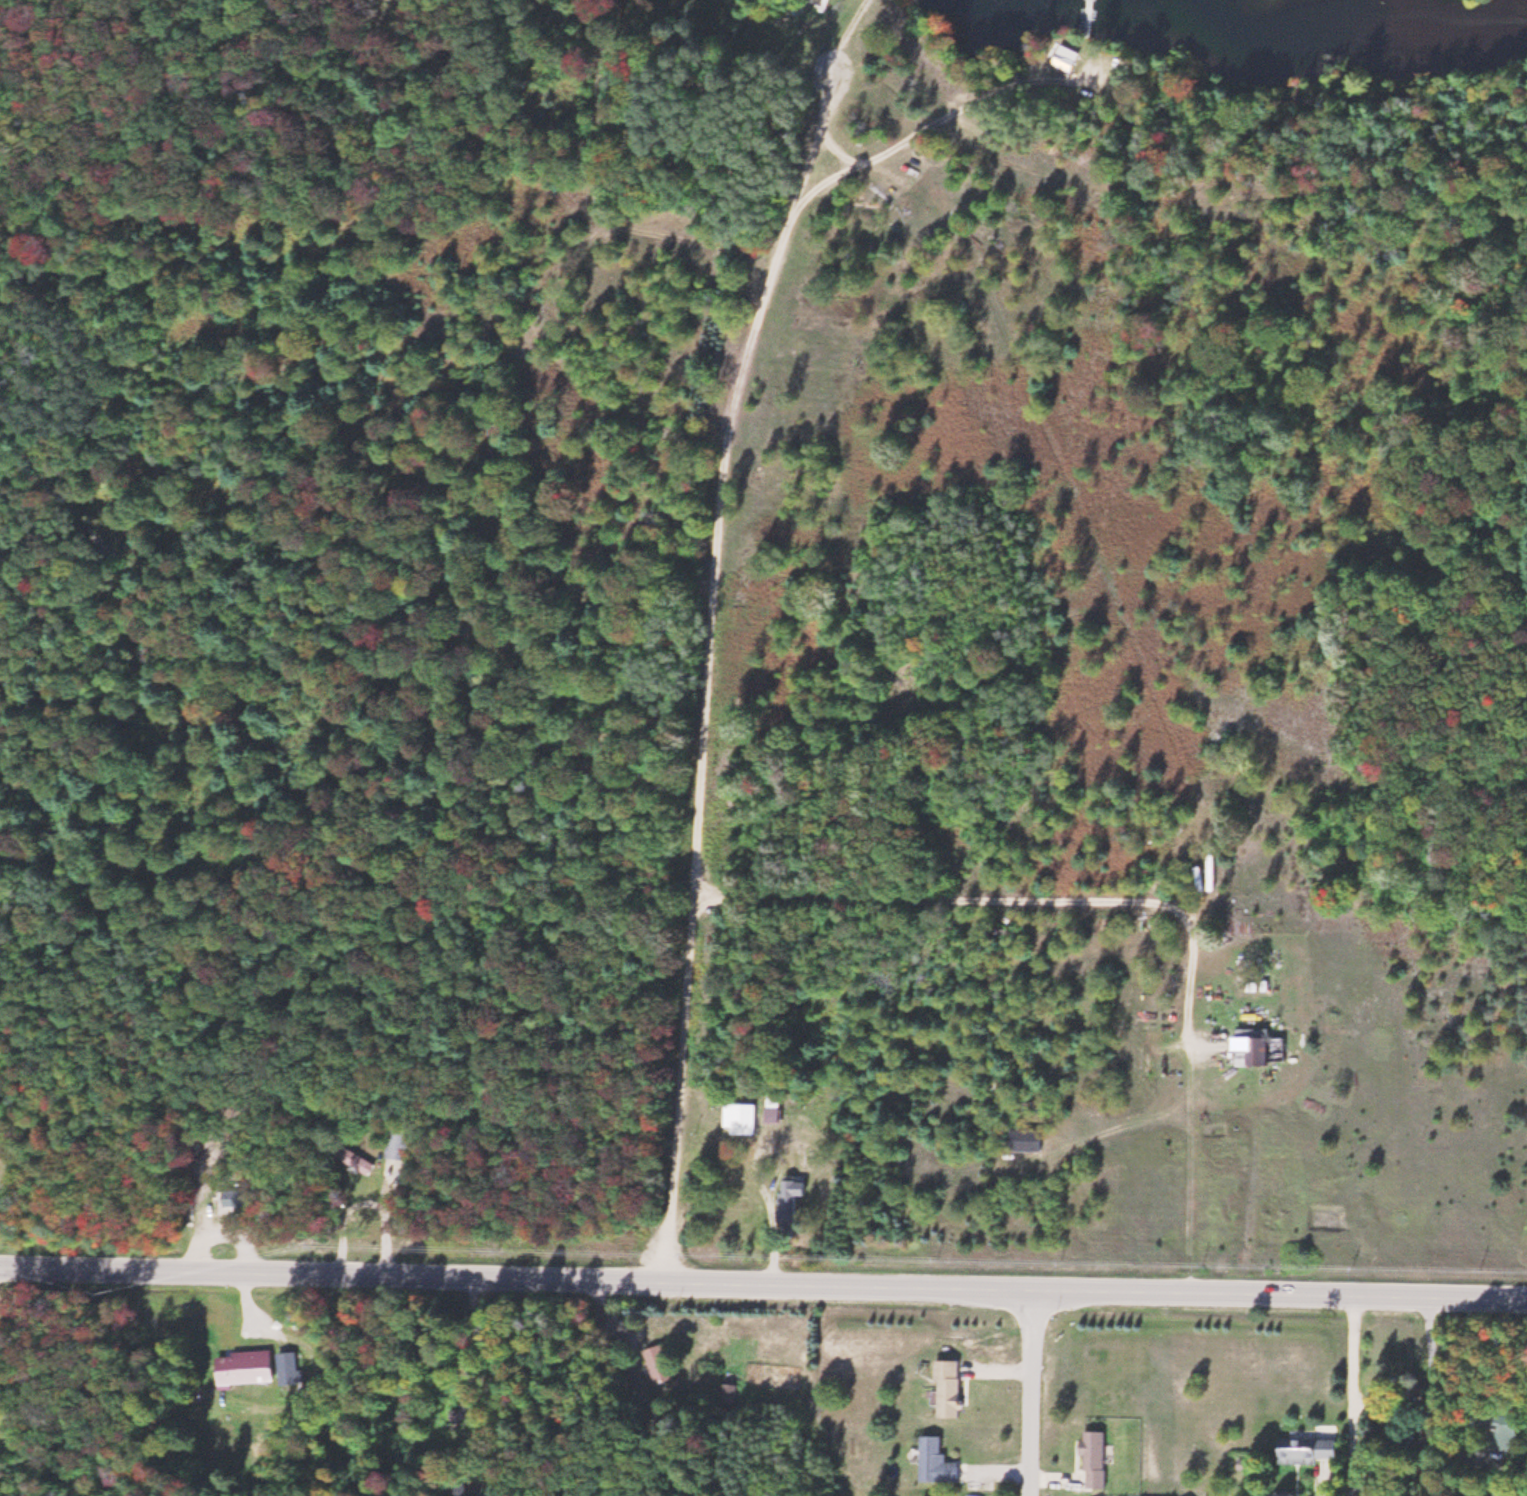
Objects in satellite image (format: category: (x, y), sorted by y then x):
building: (1064, 57)
road: (950, 113)
road: (824, 182)
road: (709, 628)
road: (1157, 692)
road: (1130, 899)
building: (1260, 1050)
building: (776, 1109)
building: (743, 1118)
building: (1028, 1141)
building: (353, 1157)
building: (394, 1172)
building: (241, 1199)
building: (796, 1201)
road: (137, 1264)
road: (900, 1286)
building: (660, 1364)
building: (289, 1366)
building: (247, 1367)
building: (952, 1388)
road: (1034, 1392)
building: (731, 1393)
building: (1509, 1434)
building: (1310, 1450)
building: (1096, 1458)
building: (938, 1461)
building: (1508, 1486)

